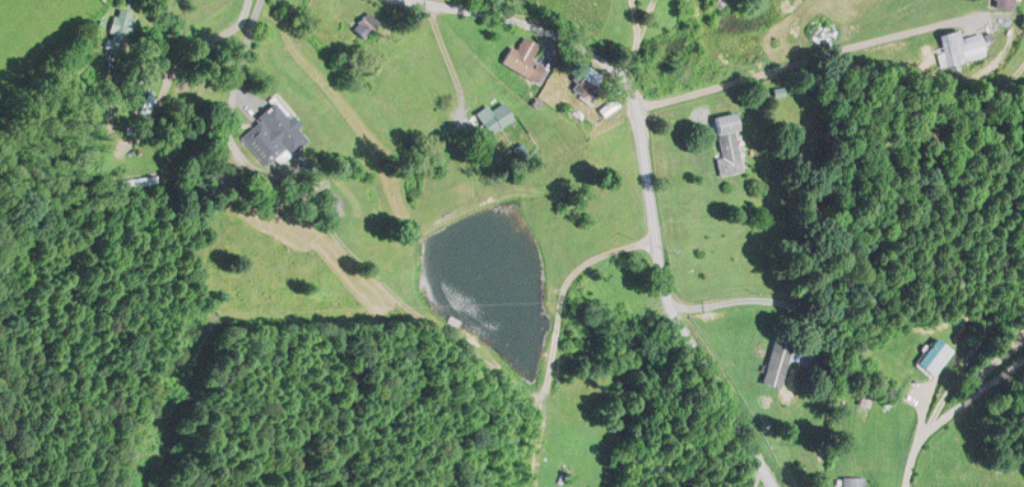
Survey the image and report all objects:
building: (1004, 4)
building: (363, 26)
building: (116, 31)
road: (635, 45)
building: (960, 48)
road: (828, 54)
building: (523, 60)
building: (587, 84)
building: (493, 118)
building: (277, 130)
building: (727, 143)
road: (651, 197)
building: (932, 356)
building: (775, 365)
road: (949, 412)
building: (853, 482)

